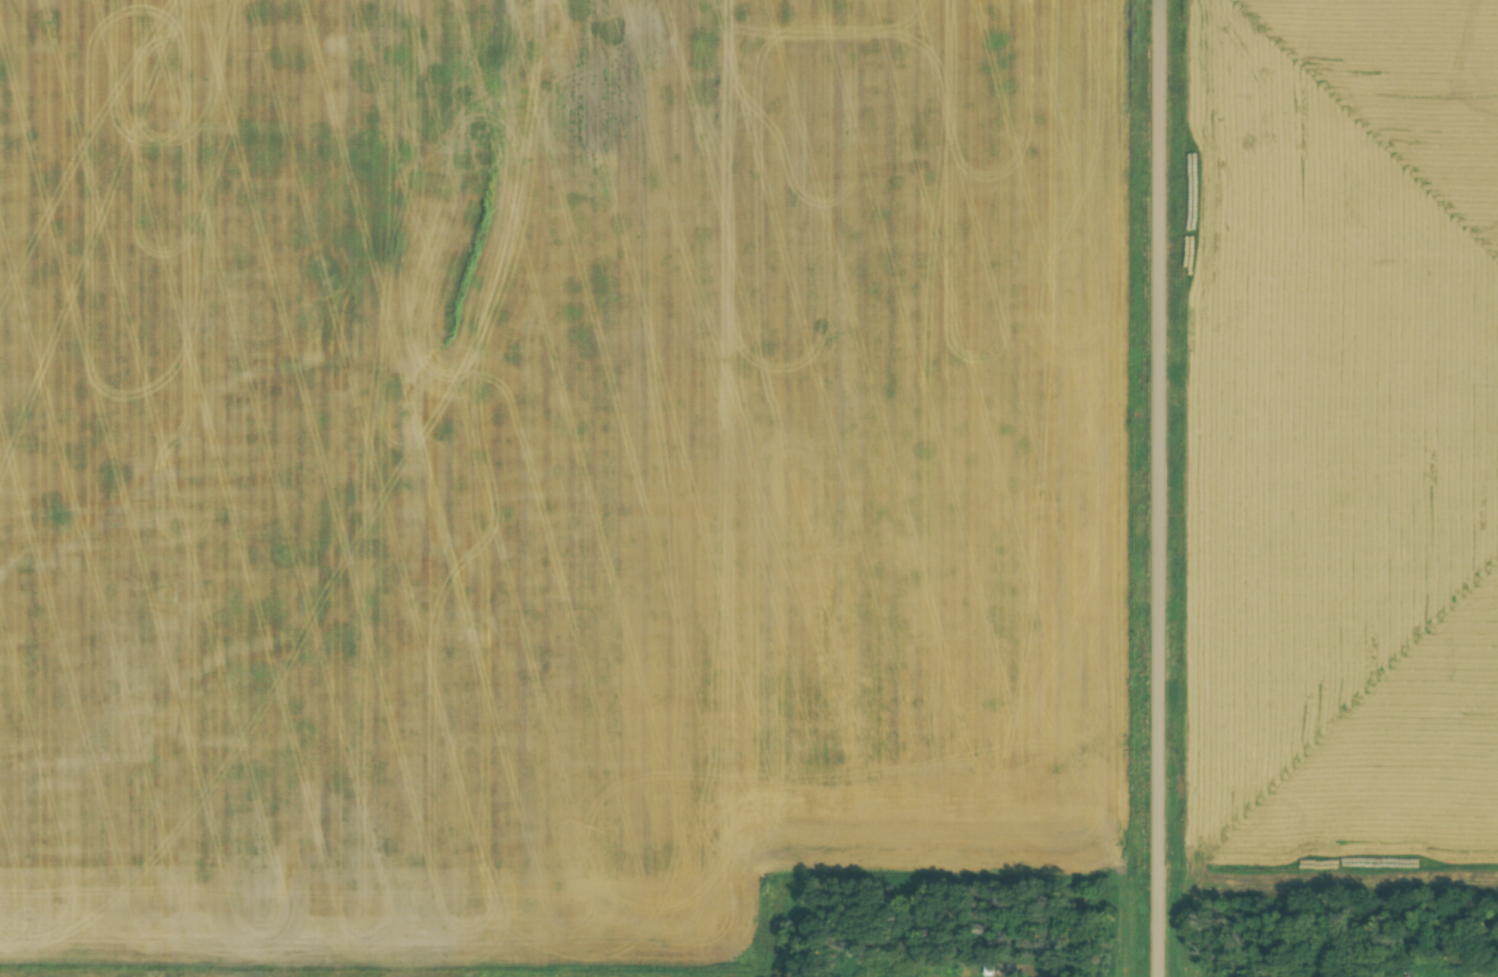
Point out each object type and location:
road: (1158, 488)

